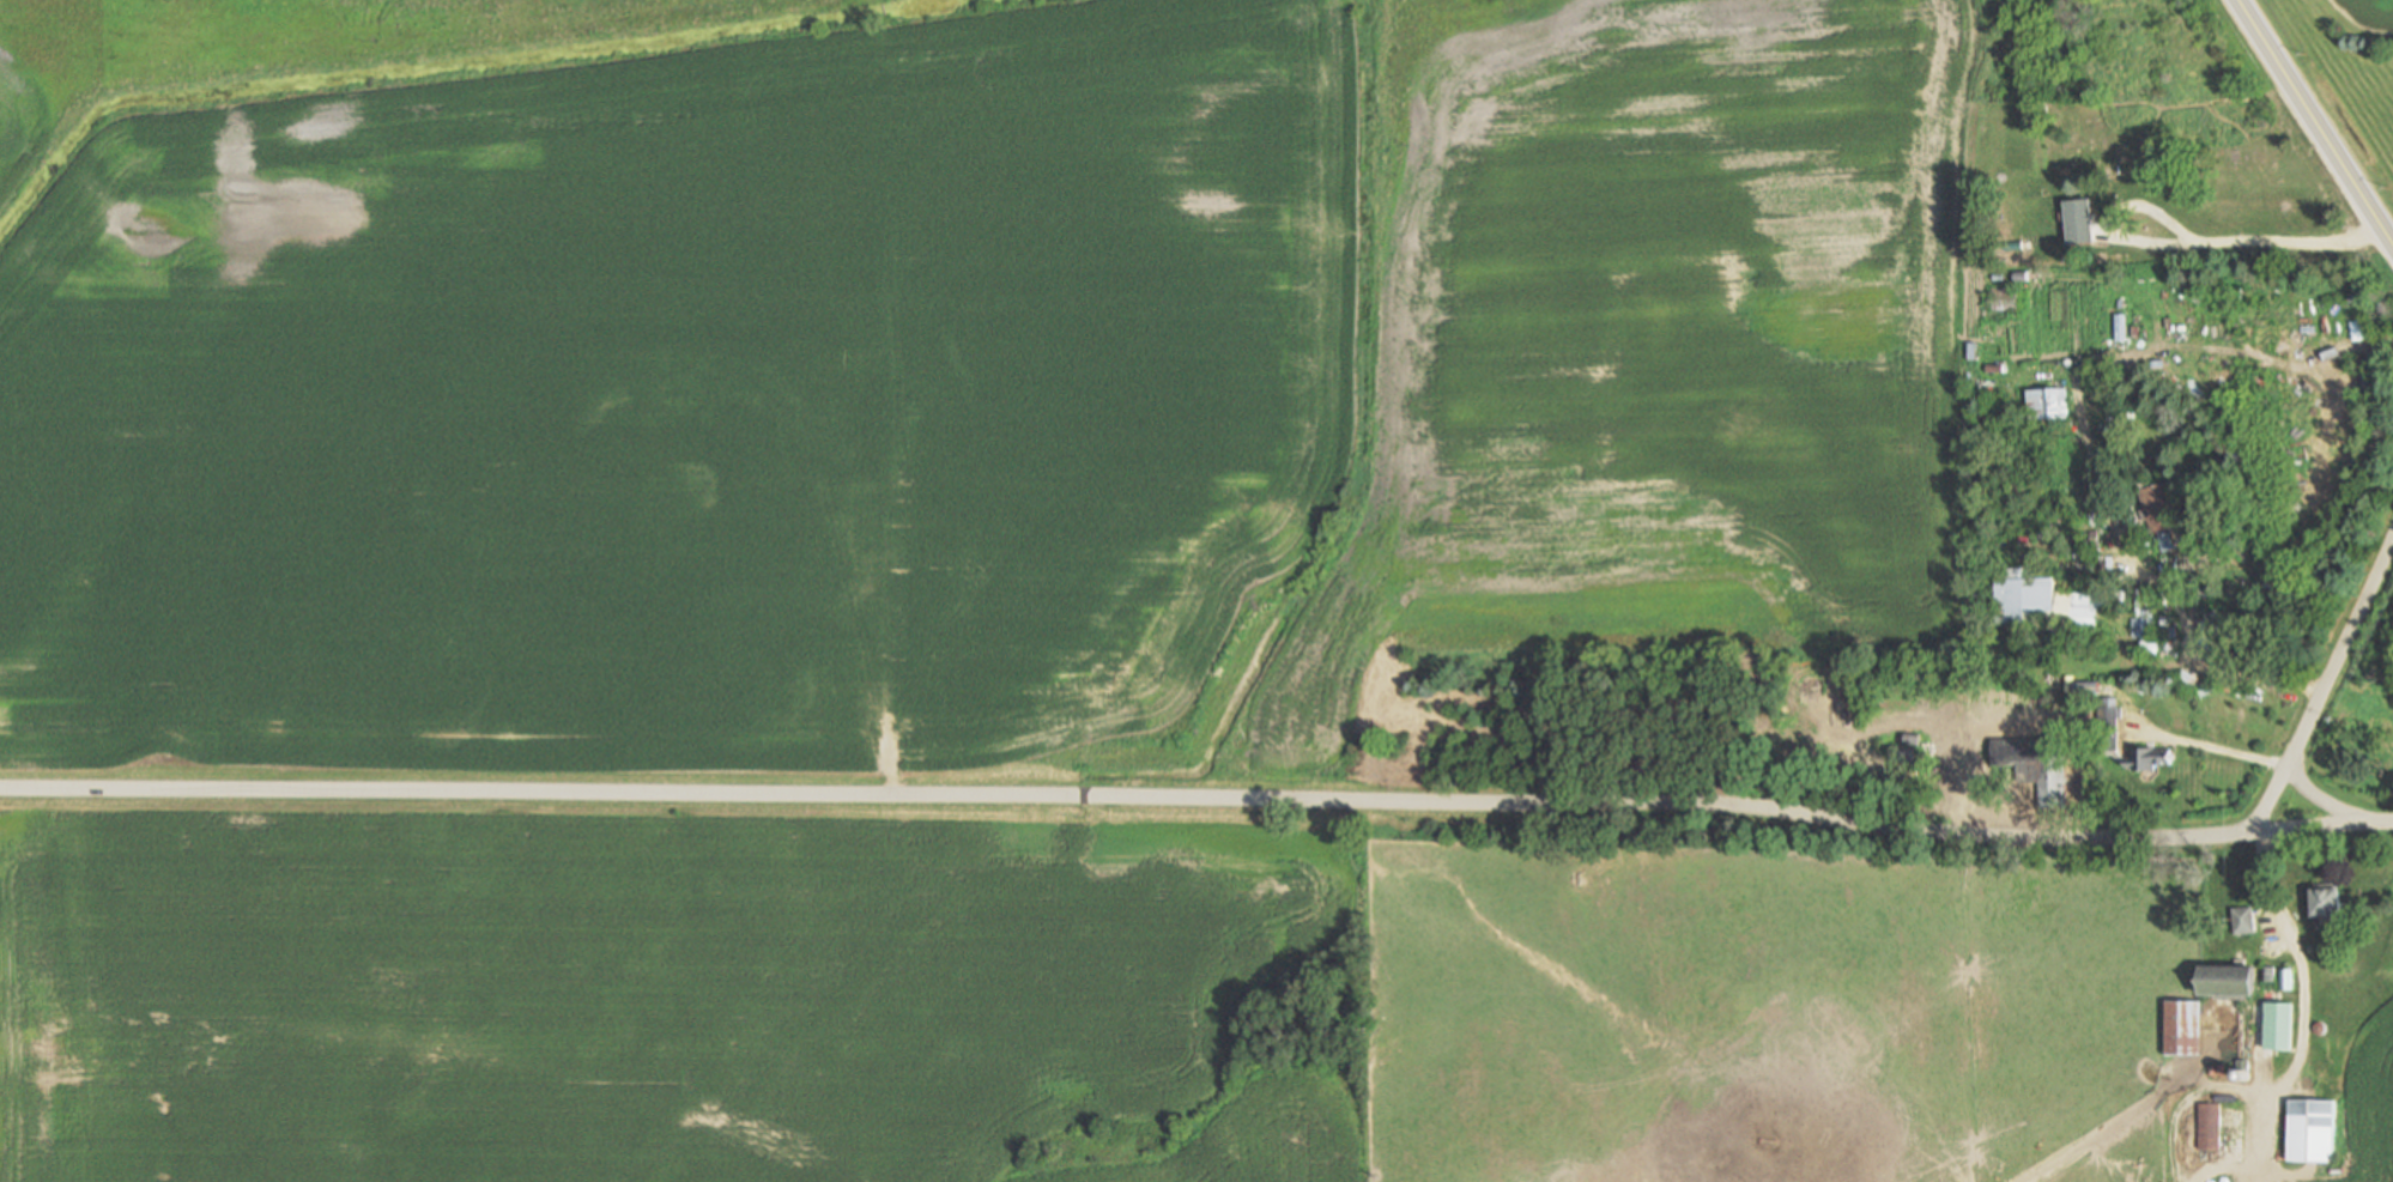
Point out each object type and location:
road: (2313, 123)
building: (2079, 224)
building: (2027, 240)
road: (2240, 243)
building: (2004, 297)
building: (2358, 331)
building: (2090, 378)
building: (2043, 406)
building: (2005, 499)
building: (2156, 505)
road: (892, 534)
building: (2082, 554)
building: (2052, 604)
building: (2147, 626)
building: (2216, 631)
road: (2200, 654)
road: (2324, 684)
building: (2088, 687)
building: (2044, 708)
building: (2107, 726)
road: (2205, 746)
building: (1902, 753)
building: (2150, 758)
building: (2035, 764)
road: (1198, 798)
road: (2318, 801)
building: (2330, 903)
building: (2243, 922)
building: (2270, 976)
building: (2286, 980)
building: (2227, 981)
road: (2303, 996)
building: (2279, 1025)
building: (2183, 1029)
building: (2241, 1039)
crop: (2358, 1103)
building: (2209, 1126)
building: (2302, 1127)

